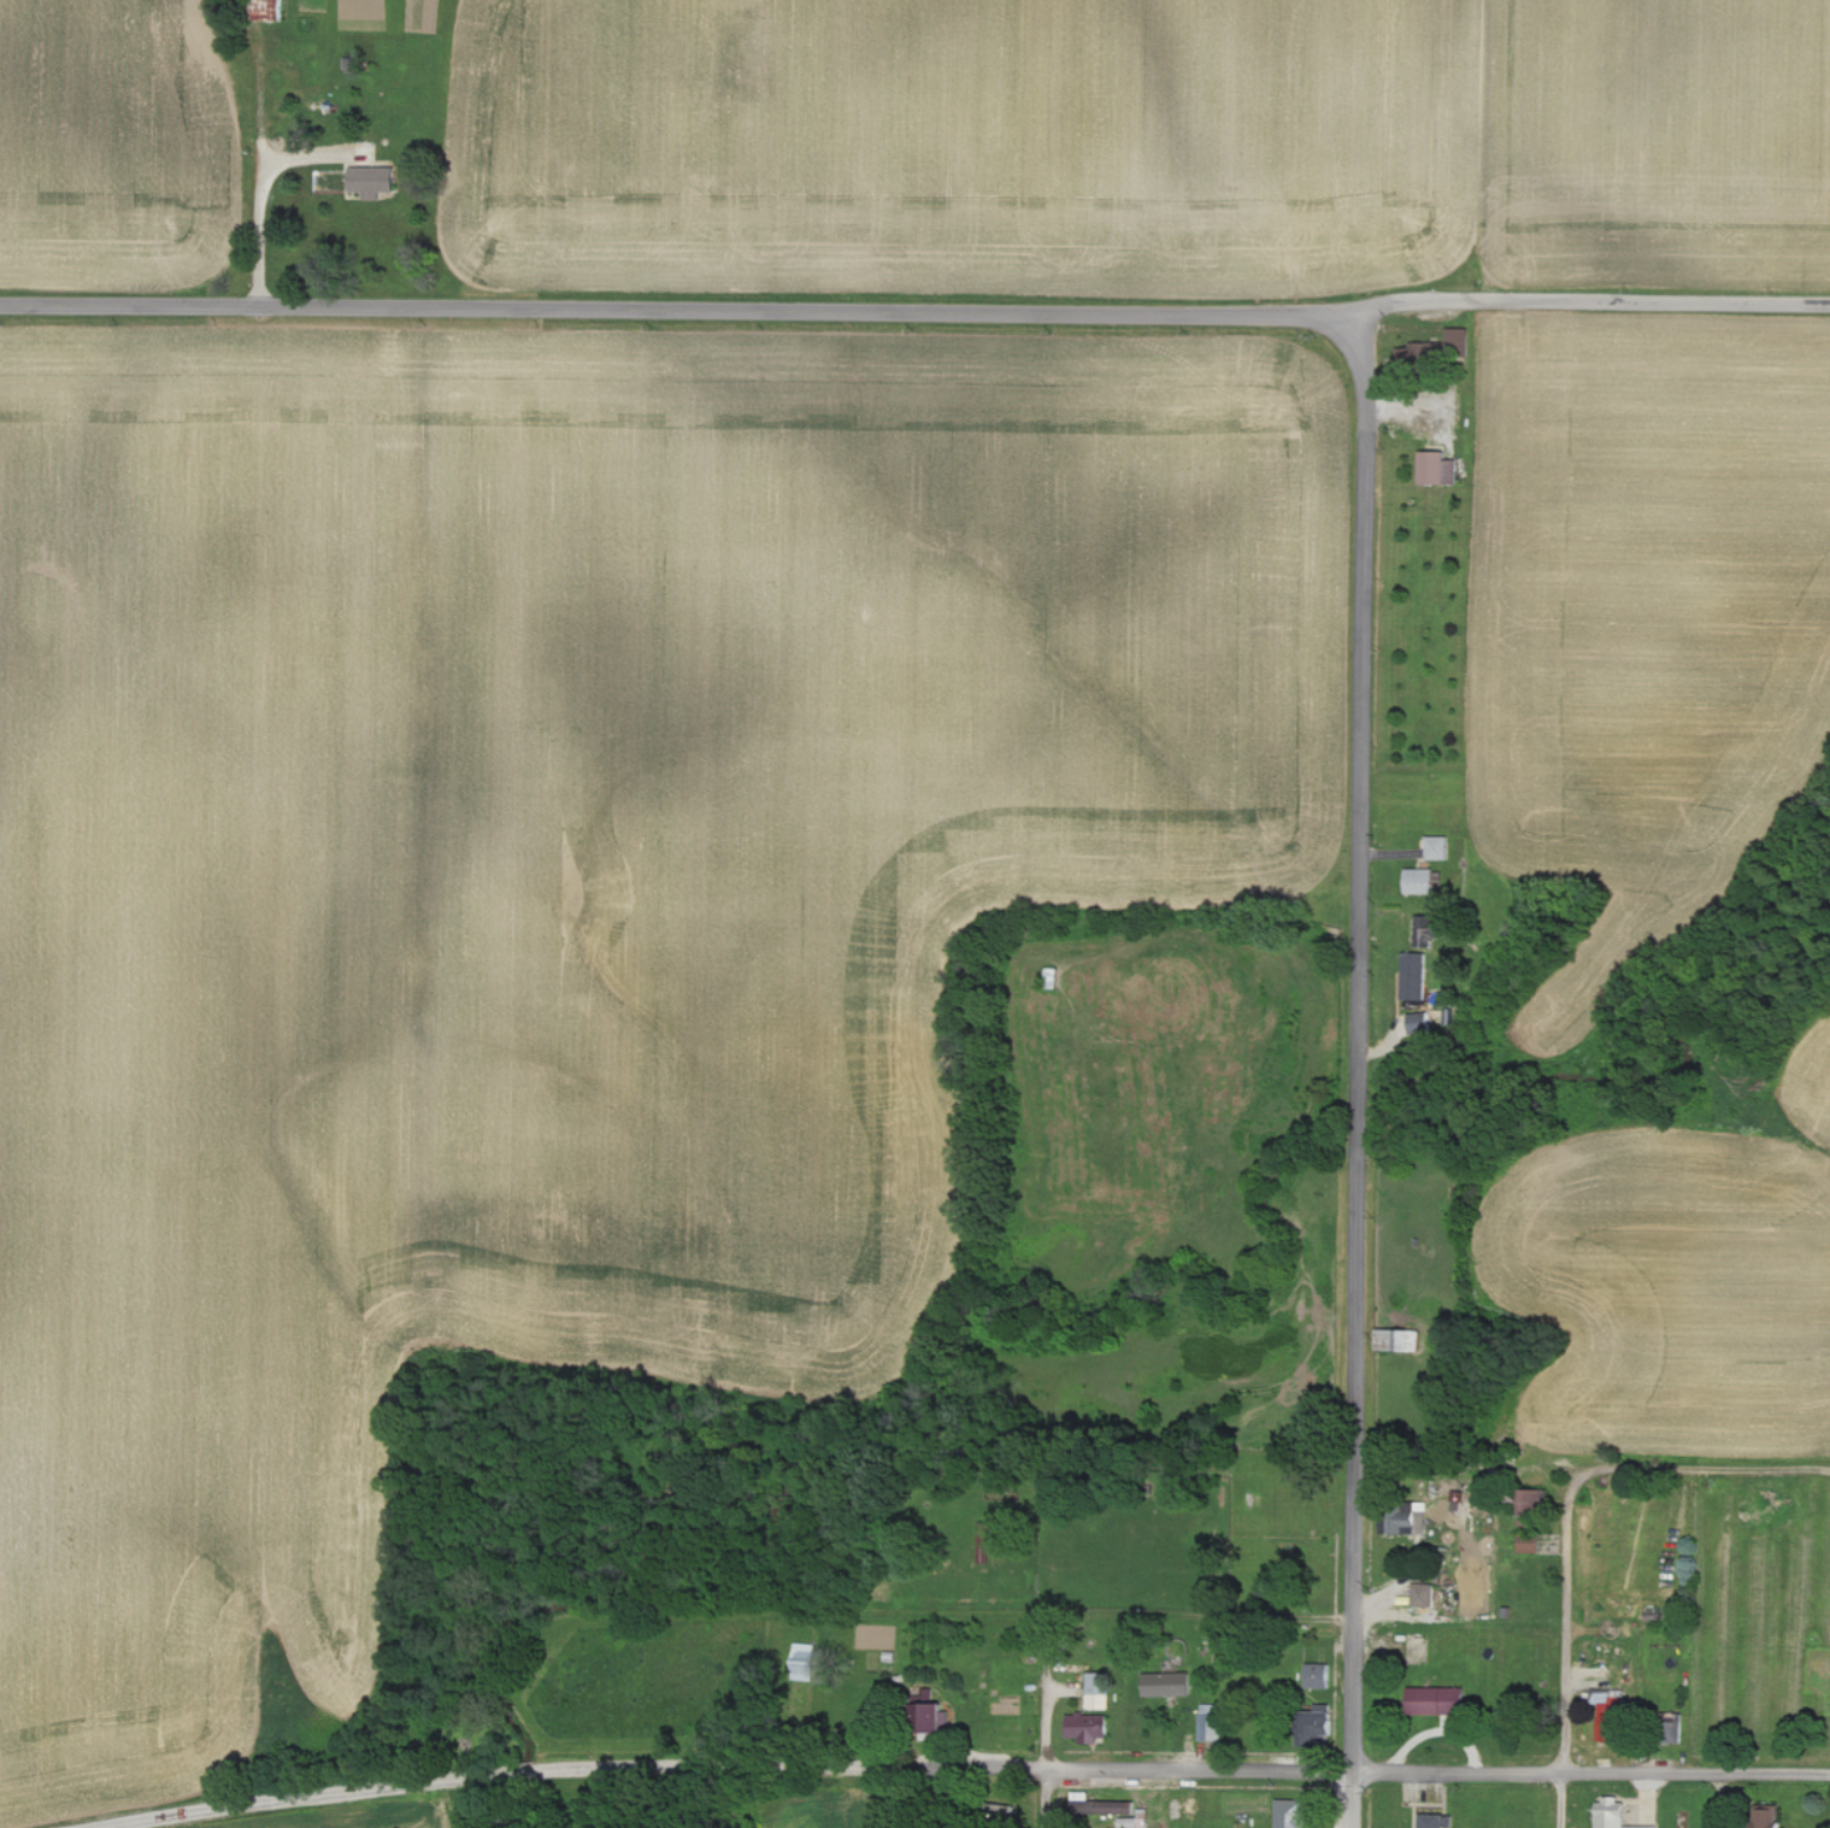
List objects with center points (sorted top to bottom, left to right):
road: (1504, 148)
building: (375, 181)
road: (259, 196)
road: (914, 307)
building: (1442, 343)
building: (1438, 468)
building: (1438, 847)
road: (1340, 881)
building: (1423, 881)
building: (1428, 928)
building: (1416, 976)
building: (1420, 1023)
building: (1394, 1340)
road: (1701, 1471)
building: (1536, 1501)
building: (1401, 1522)
building: (1531, 1546)
building: (1424, 1595)
road: (1336, 1644)
road: (1563, 1653)
building: (806, 1659)
building: (1319, 1675)
building: (1170, 1685)
building: (1099, 1691)
road: (1049, 1694)
building: (1438, 1700)
building: (935, 1718)
building: (1324, 1721)
building: (1212, 1722)
building: (1090, 1728)
road: (592, 1767)
road: (1440, 1773)
road: (1052, 1798)
building: (1100, 1806)
building: (1293, 1814)
building: (1616, 1814)
building: (1769, 1818)
building: (1432, 1821)
building: (1128, 1822)

